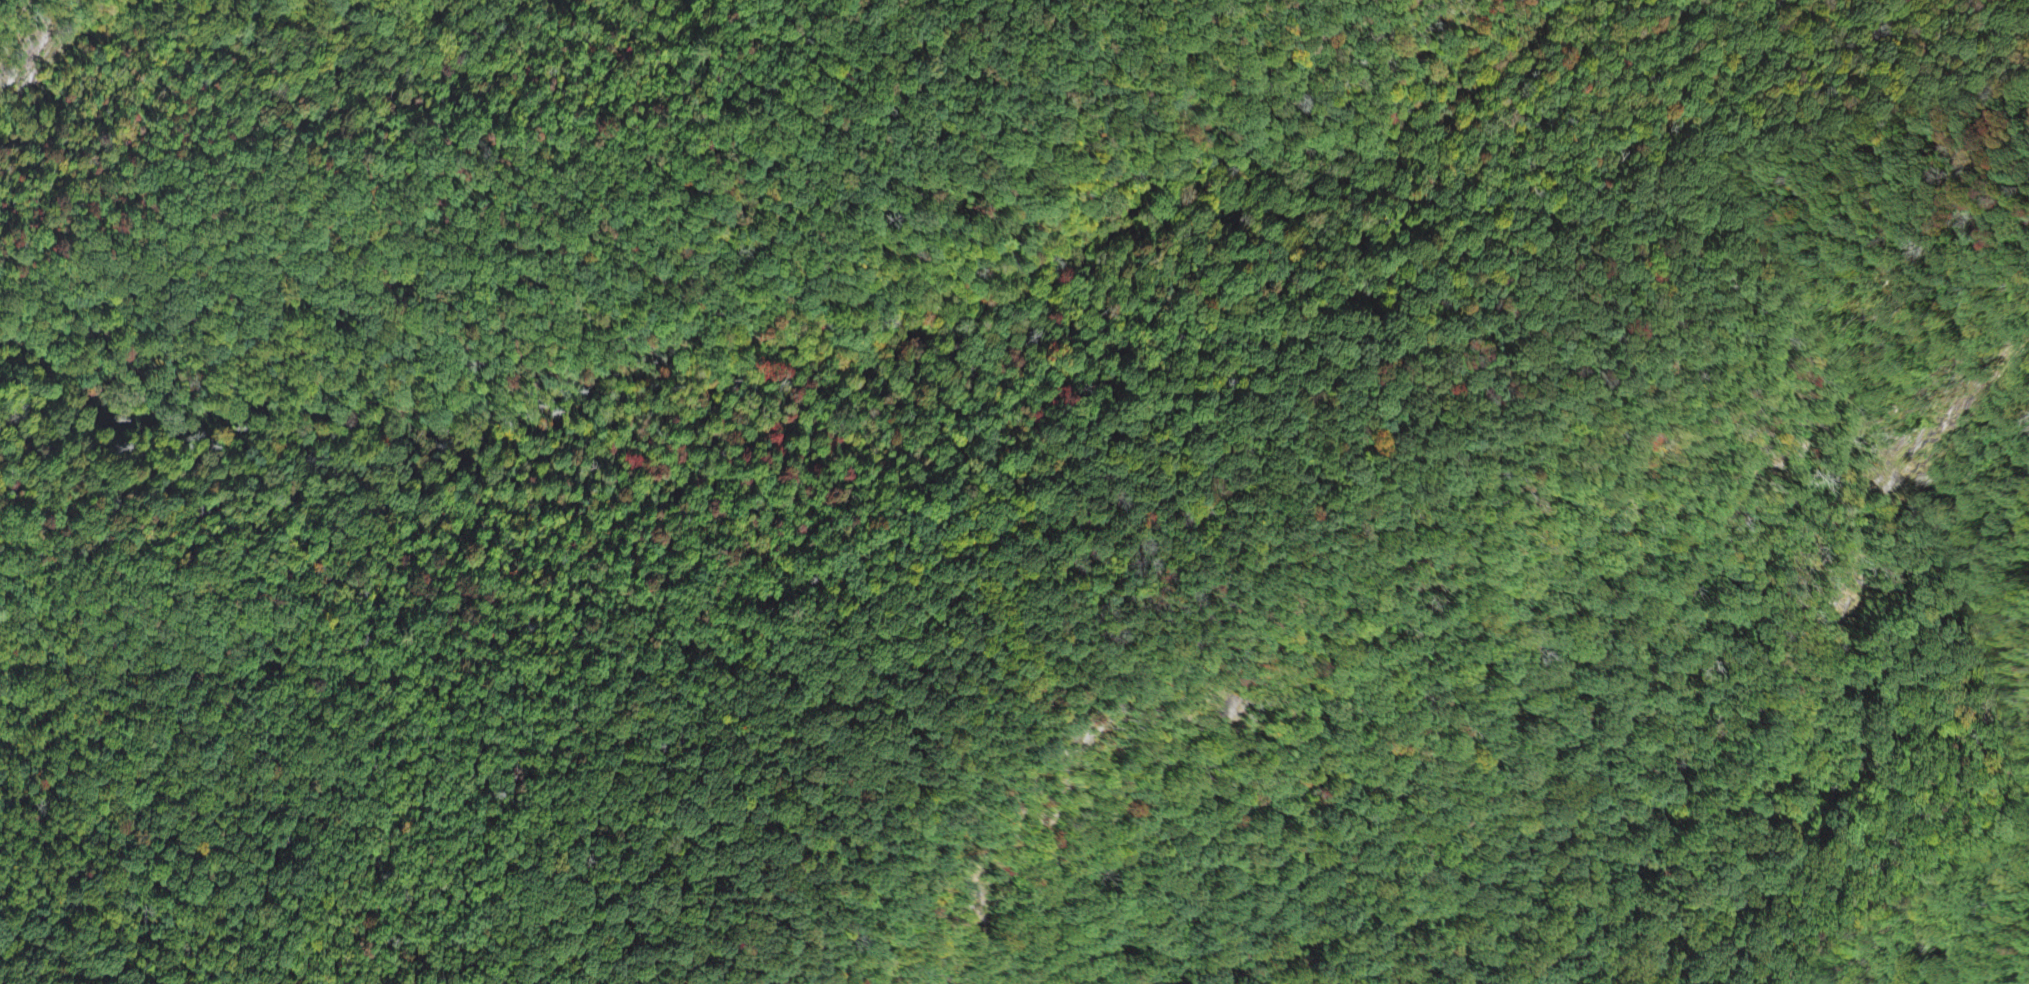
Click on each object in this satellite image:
road: (198, 498)

